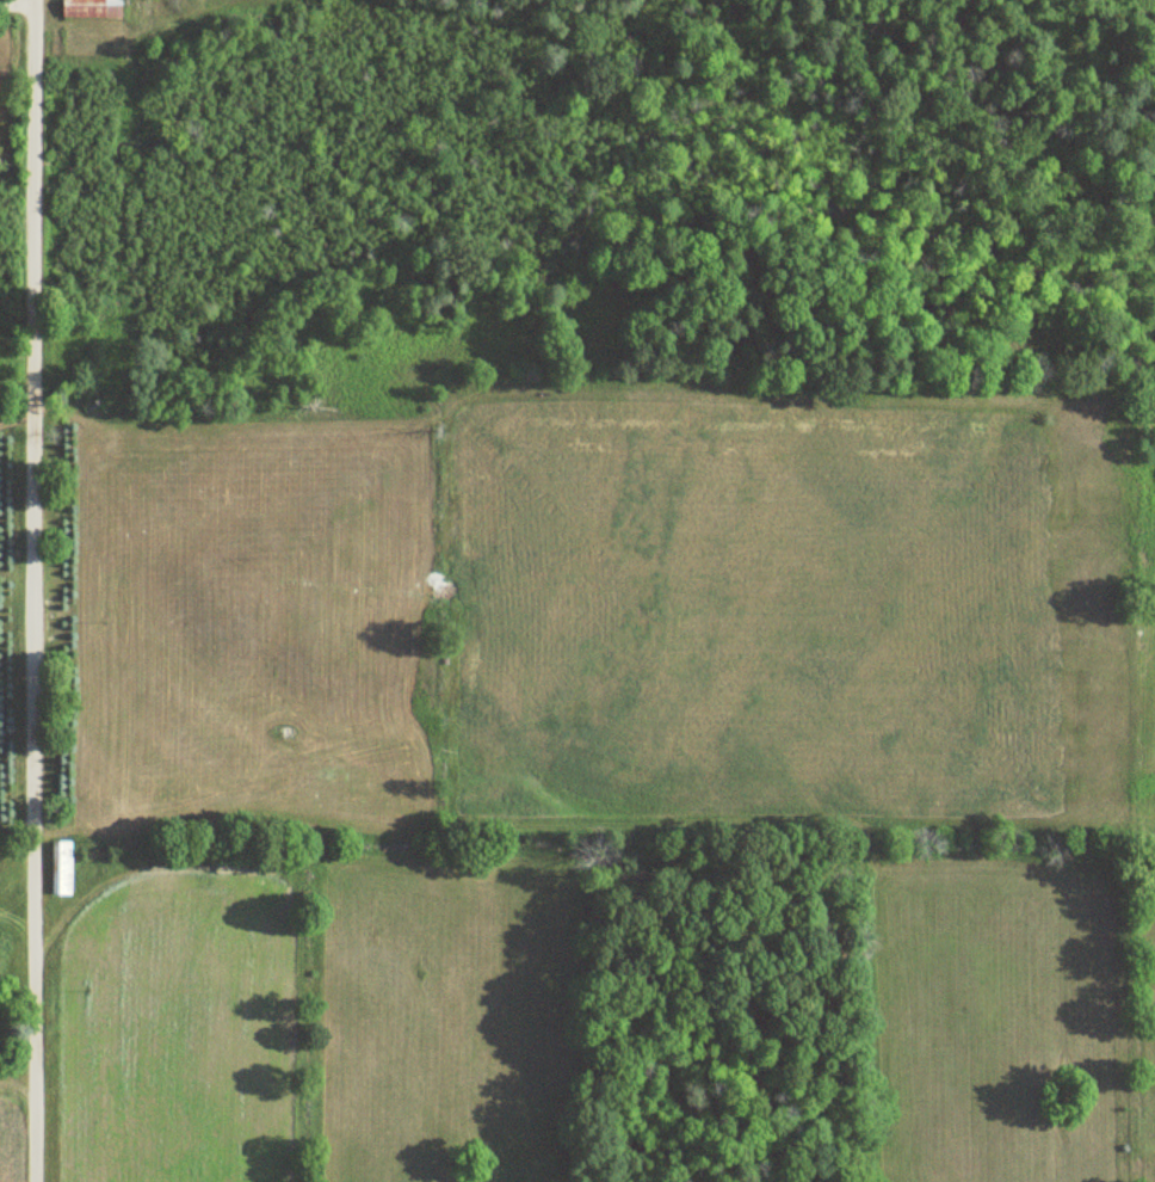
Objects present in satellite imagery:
building: (94, 8)
road: (36, 591)
building: (63, 868)

